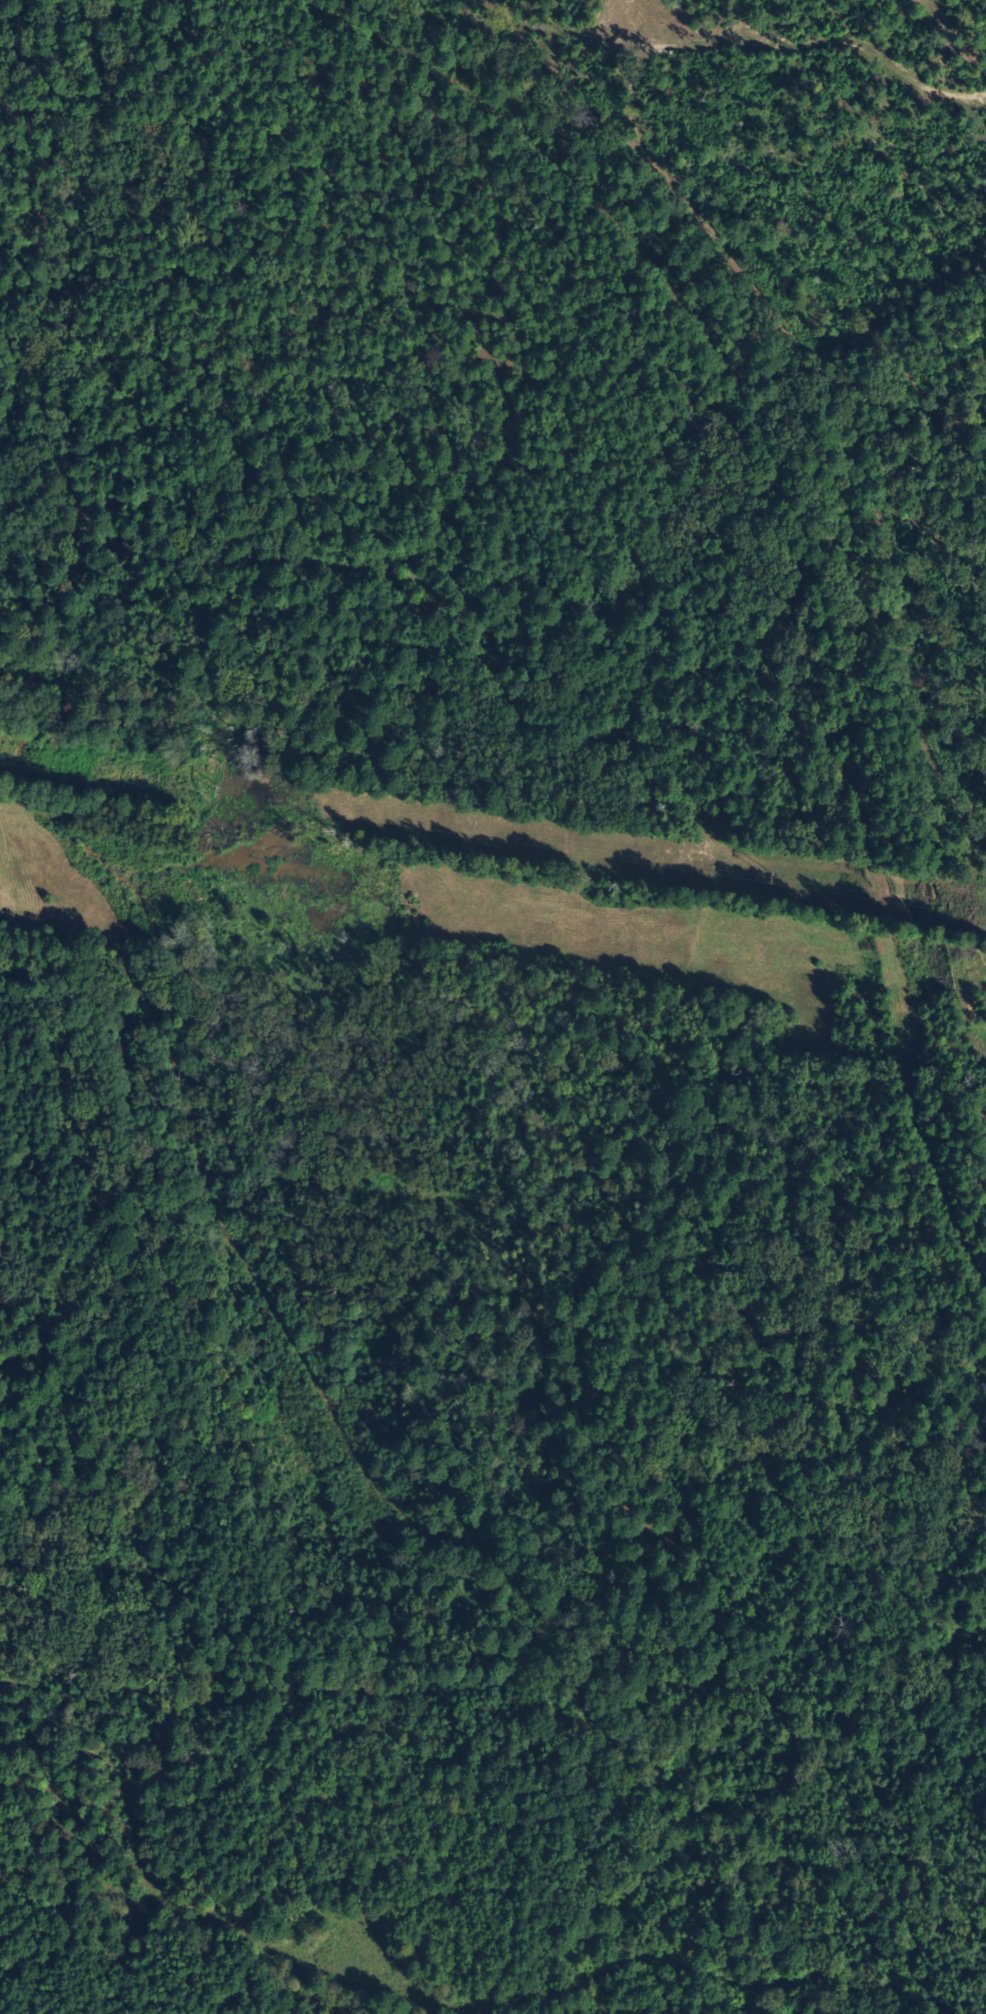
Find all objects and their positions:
road: (404, 2002)

